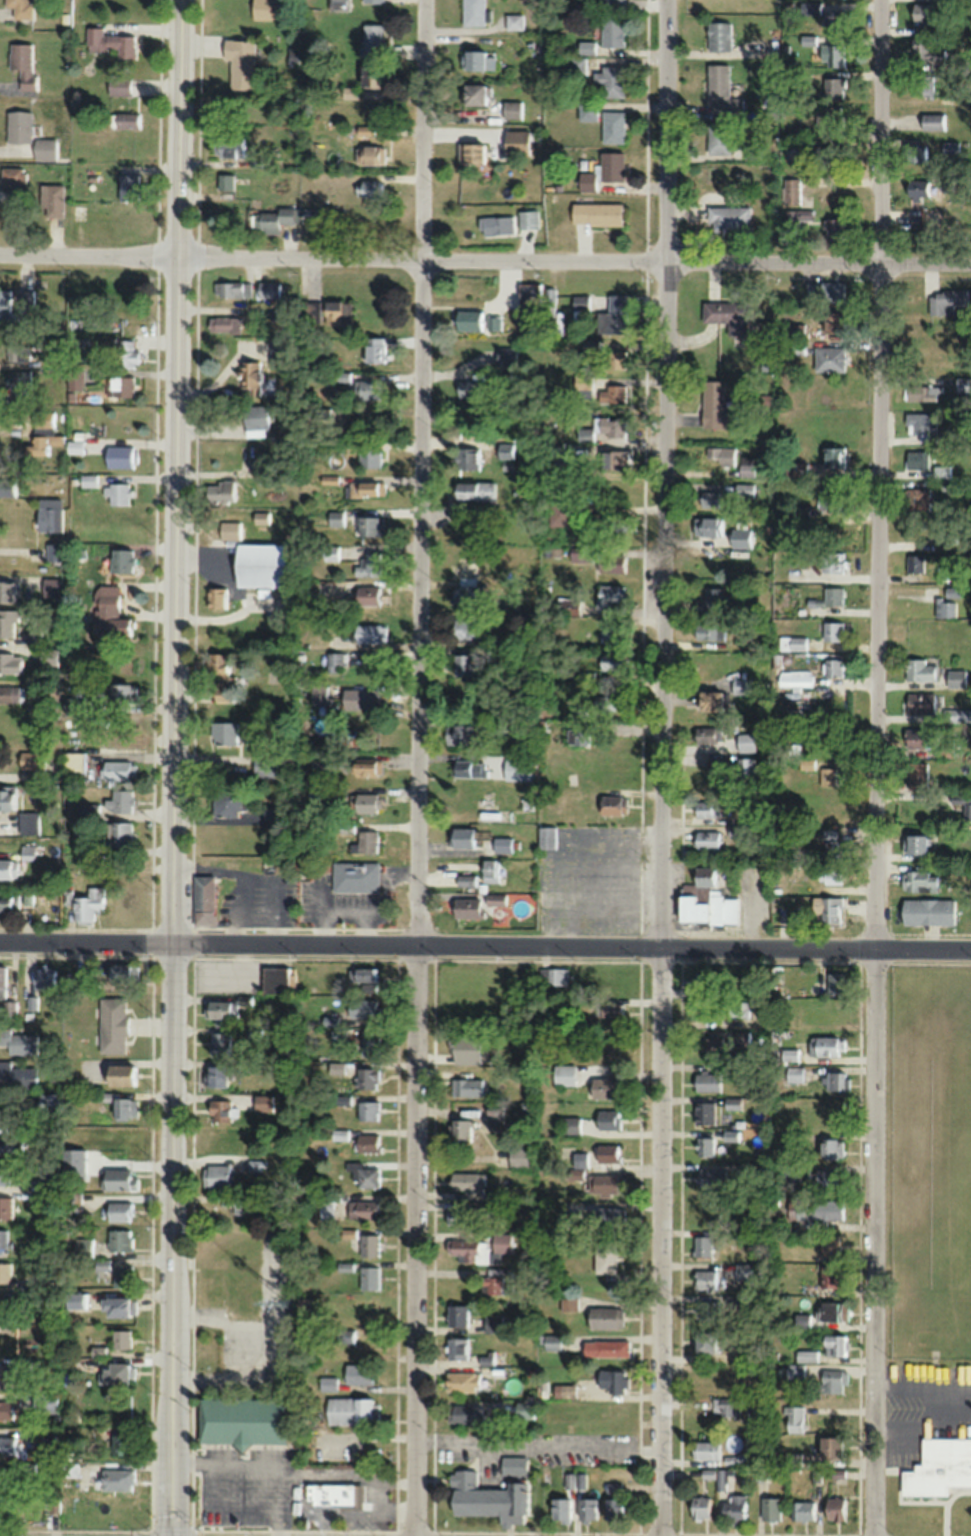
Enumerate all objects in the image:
building: (372, 1)
building: (613, 3)
building: (337, 5)
building: (19, 8)
building: (810, 8)
building: (263, 10)
building: (473, 13)
building: (923, 14)
building: (836, 17)
building: (514, 21)
building: (612, 31)
building: (718, 36)
building: (371, 40)
building: (110, 42)
building: (926, 51)
building: (834, 55)
building: (478, 60)
building: (240, 63)
building: (21, 67)
building: (371, 75)
building: (610, 80)
building: (118, 84)
building: (925, 85)
building: (834, 87)
building: (721, 91)
building: (349, 93)
building: (474, 94)
building: (512, 109)
building: (587, 111)
building: (828, 117)
building: (126, 120)
building: (932, 121)
building: (19, 125)
building: (613, 126)
building: (364, 130)
building: (718, 138)
building: (517, 142)
building: (230, 145)
building: (45, 148)
building: (949, 148)
building: (471, 152)
building: (915, 153)
building: (370, 154)
building: (829, 155)
building: (261, 160)
building: (612, 165)
building: (13, 175)
building: (225, 181)
building: (129, 187)
building: (370, 188)
building: (917, 188)
building: (790, 191)
building: (52, 199)
building: (595, 213)
building: (795, 217)
building: (276, 218)
building: (528, 218)
building: (728, 219)
building: (496, 225)
building: (834, 228)
road: (485, 260)
building: (233, 288)
building: (270, 289)
building: (824, 291)
building: (529, 295)
building: (26, 299)
building: (947, 300)
building: (580, 301)
building: (6, 307)
building: (335, 312)
building: (727, 314)
building: (612, 315)
building: (469, 320)
building: (493, 322)
building: (834, 322)
building: (224, 323)
building: (372, 350)
building: (18, 351)
building: (126, 353)
building: (506, 356)
building: (614, 358)
building: (828, 359)
building: (252, 377)
building: (19, 382)
building: (963, 384)
building: (122, 386)
building: (469, 388)
building: (368, 390)
building: (922, 392)
building: (612, 393)
building: (822, 395)
building: (713, 404)
building: (256, 420)
building: (608, 426)
building: (920, 427)
building: (42, 433)
building: (506, 450)
building: (121, 456)
building: (719, 456)
building: (832, 456)
building: (554, 457)
building: (370, 458)
building: (468, 458)
building: (614, 459)
building: (916, 459)
building: (746, 466)
building: (940, 471)
building: (88, 480)
building: (8, 488)
building: (367, 489)
building: (744, 490)
building: (221, 491)
building: (473, 491)
building: (120, 494)
building: (833, 494)
building: (917, 498)
building: (709, 499)
building: (261, 517)
building: (50, 519)
building: (618, 523)
building: (370, 525)
building: (708, 526)
building: (230, 530)
building: (949, 534)
building: (740, 538)
building: (89, 548)
building: (55, 552)
building: (330, 553)
building: (122, 560)
building: (610, 563)
building: (832, 563)
building: (261, 565)
building: (368, 565)
building: (912, 568)
building: (6, 591)
building: (368, 595)
building: (465, 595)
building: (609, 595)
building: (217, 598)
building: (713, 599)
building: (567, 607)
building: (944, 609)
building: (277, 610)
building: (111, 617)
building: (8, 622)
building: (463, 629)
building: (831, 632)
building: (367, 633)
building: (709, 633)
building: (611, 637)
building: (792, 643)
building: (50, 657)
building: (336, 662)
building: (612, 662)
building: (11, 663)
building: (463, 665)
building: (831, 668)
building: (919, 671)
building: (222, 676)
building: (585, 678)
building: (795, 679)
building: (955, 679)
building: (740, 686)
building: (11, 695)
building: (121, 695)
building: (319, 695)
building: (360, 699)
building: (709, 701)
building: (608, 703)
building: (920, 703)
building: (956, 716)
building: (502, 729)
building: (225, 732)
building: (459, 735)
building: (703, 735)
building: (578, 737)
building: (915, 738)
building: (745, 742)
building: (32, 761)
building: (74, 762)
building: (266, 766)
building: (321, 766)
building: (367, 767)
road: (418, 767)
road: (662, 767)
building: (746, 767)
road: (877, 767)
road: (175, 768)
building: (470, 769)
building: (118, 770)
building: (827, 776)
building: (916, 776)
building: (8, 800)
building: (120, 801)
building: (229, 802)
building: (367, 803)
building: (963, 803)
building: (612, 805)
building: (706, 809)
building: (30, 823)
building: (119, 836)
building: (546, 837)
building: (460, 838)
building: (367, 841)
building: (707, 843)
building: (829, 844)
building: (502, 845)
building: (913, 845)
building: (29, 852)
building: (9, 868)
building: (489, 870)
building: (355, 876)
building: (704, 876)
building: (828, 876)
building: (467, 880)
building: (918, 881)
building: (494, 898)
building: (204, 899)
building: (28, 900)
building: (9, 901)
building: (88, 904)
building: (466, 907)
building: (690, 910)
building: (723, 910)
building: (830, 910)
building: (926, 912)
road: (485, 944)
street lamp: (635, 959)
street lamp: (853, 960)
road: (929, 963)
building: (119, 972)
building: (363, 974)
building: (557, 976)
building: (46, 977)
building: (3, 981)
building: (277, 981)
building: (701, 981)
building: (362, 1007)
building: (739, 1009)
building: (609, 1010)
building: (221, 1011)
building: (113, 1025)
building: (19, 1041)
building: (220, 1044)
building: (711, 1044)
building: (826, 1045)
building: (370, 1046)
building: (465, 1048)
building: (19, 1074)
building: (120, 1074)
building: (563, 1074)
building: (793, 1074)
building: (217, 1075)
building: (367, 1077)
building: (833, 1080)
building: (705, 1081)
building: (467, 1086)
building: (605, 1087)
building: (7, 1100)
building: (48, 1101)
building: (264, 1102)
building: (732, 1102)
building: (124, 1107)
building: (222, 1110)
building: (368, 1110)
building: (703, 1111)
building: (494, 1113)
building: (607, 1119)
building: (570, 1124)
building: (460, 1129)
building: (367, 1142)
building: (12, 1144)
building: (705, 1145)
building: (830, 1147)
building: (608, 1152)
building: (257, 1166)
building: (5, 1172)
building: (575, 1173)
building: (363, 1174)
building: (216, 1176)
building: (711, 1176)
building: (821, 1176)
building: (119, 1178)
building: (466, 1181)
building: (604, 1183)
building: (49, 1186)
building: (497, 1202)
building: (240, 1204)
building: (6, 1206)
building: (822, 1208)
building: (363, 1209)
building: (120, 1211)
building: (606, 1215)
building: (460, 1216)
building: (3, 1237)
building: (120, 1239)
building: (828, 1243)
building: (369, 1244)
building: (701, 1245)
building: (84, 1246)
building: (480, 1248)
building: (604, 1255)
building: (5, 1271)
building: (743, 1271)
building: (241, 1273)
building: (828, 1274)
building: (123, 1275)
building: (369, 1277)
building: (502, 1279)
building: (705, 1279)
building: (76, 1299)
building: (568, 1303)
building: (116, 1305)
building: (4, 1308)
building: (707, 1309)
building: (828, 1309)
building: (457, 1314)
building: (604, 1317)
building: (493, 1322)
building: (344, 1336)
building: (122, 1338)
building: (551, 1341)
building: (703, 1341)
building: (834, 1345)
building: (456, 1347)
building: (604, 1348)
building: (99, 1350)
building: (806, 1355)
building: (116, 1372)
building: (794, 1372)
building: (358, 1373)
building: (5, 1374)
building: (610, 1380)
building: (463, 1381)
building: (832, 1381)
building: (566, 1390)
building: (46, 1402)
building: (727, 1406)
building: (9, 1408)
building: (350, 1410)
building: (464, 1412)
building: (793, 1419)
building: (242, 1421)
building: (46, 1436)
building: (121, 1444)
building: (9, 1445)
building: (829, 1446)
building: (705, 1450)
building: (743, 1458)
building: (513, 1465)
building: (938, 1468)
building: (70, 1469)
building: (3, 1477)
building: (117, 1479)
building: (722, 1479)
building: (341, 1494)
building: (486, 1498)
building: (612, 1500)
building: (698, 1506)
building: (735, 1507)
building: (587, 1508)
building: (770, 1508)
building: (834, 1508)
building: (802, 1509)
building: (5, 1510)
building: (559, 1510)

